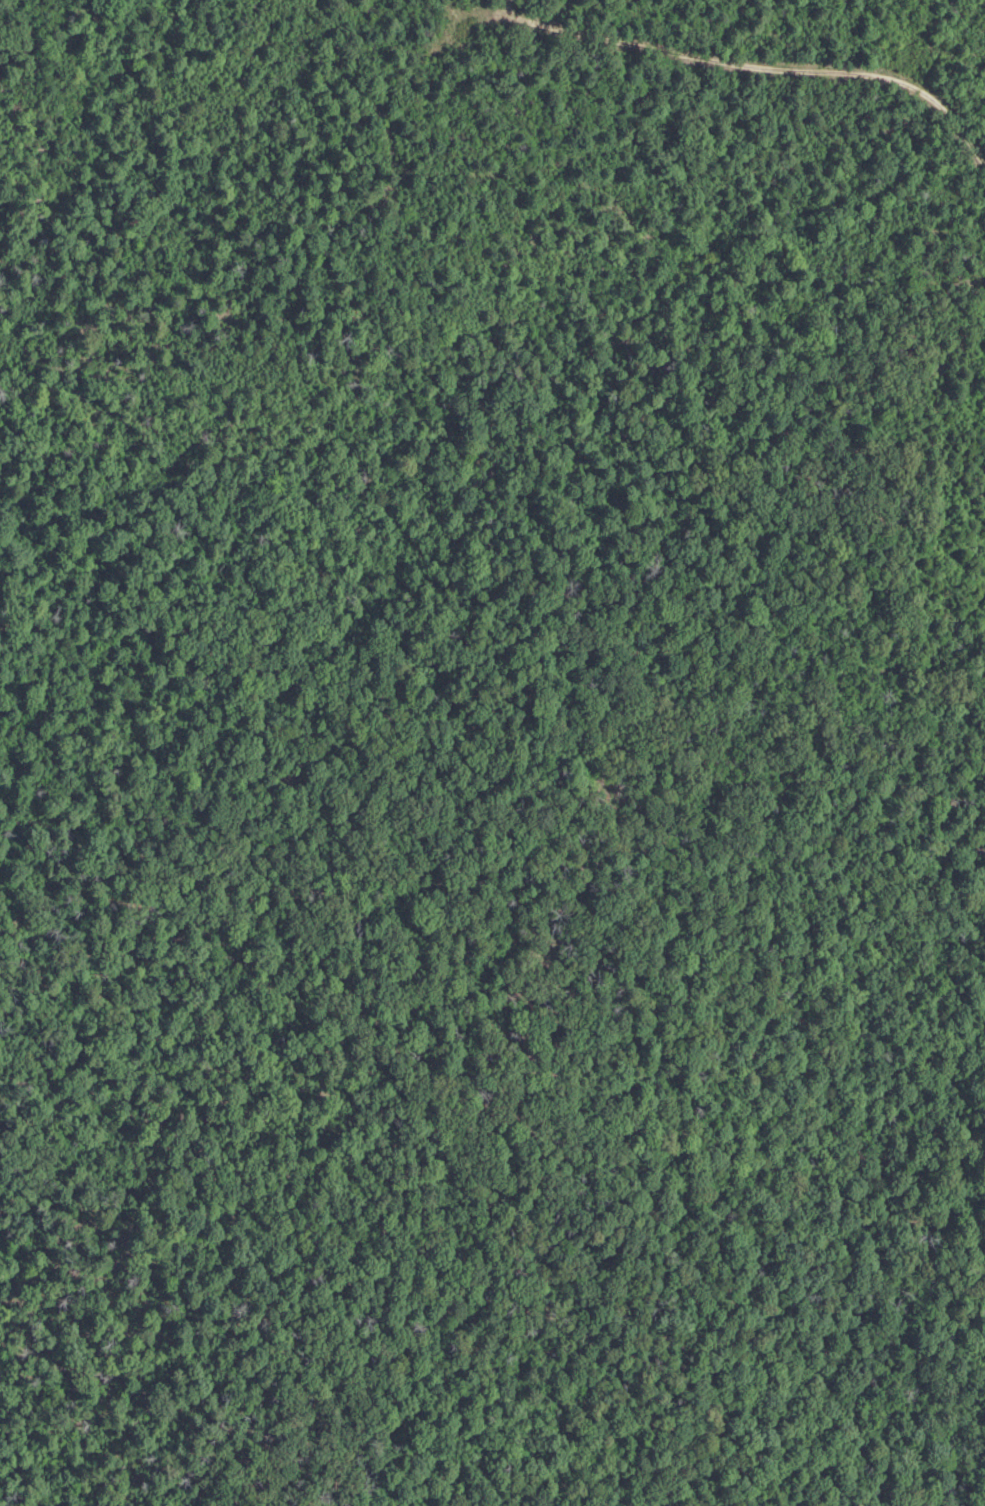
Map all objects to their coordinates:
road: (446, 12)
road: (414, 61)
road: (982, 487)
road: (964, 616)

